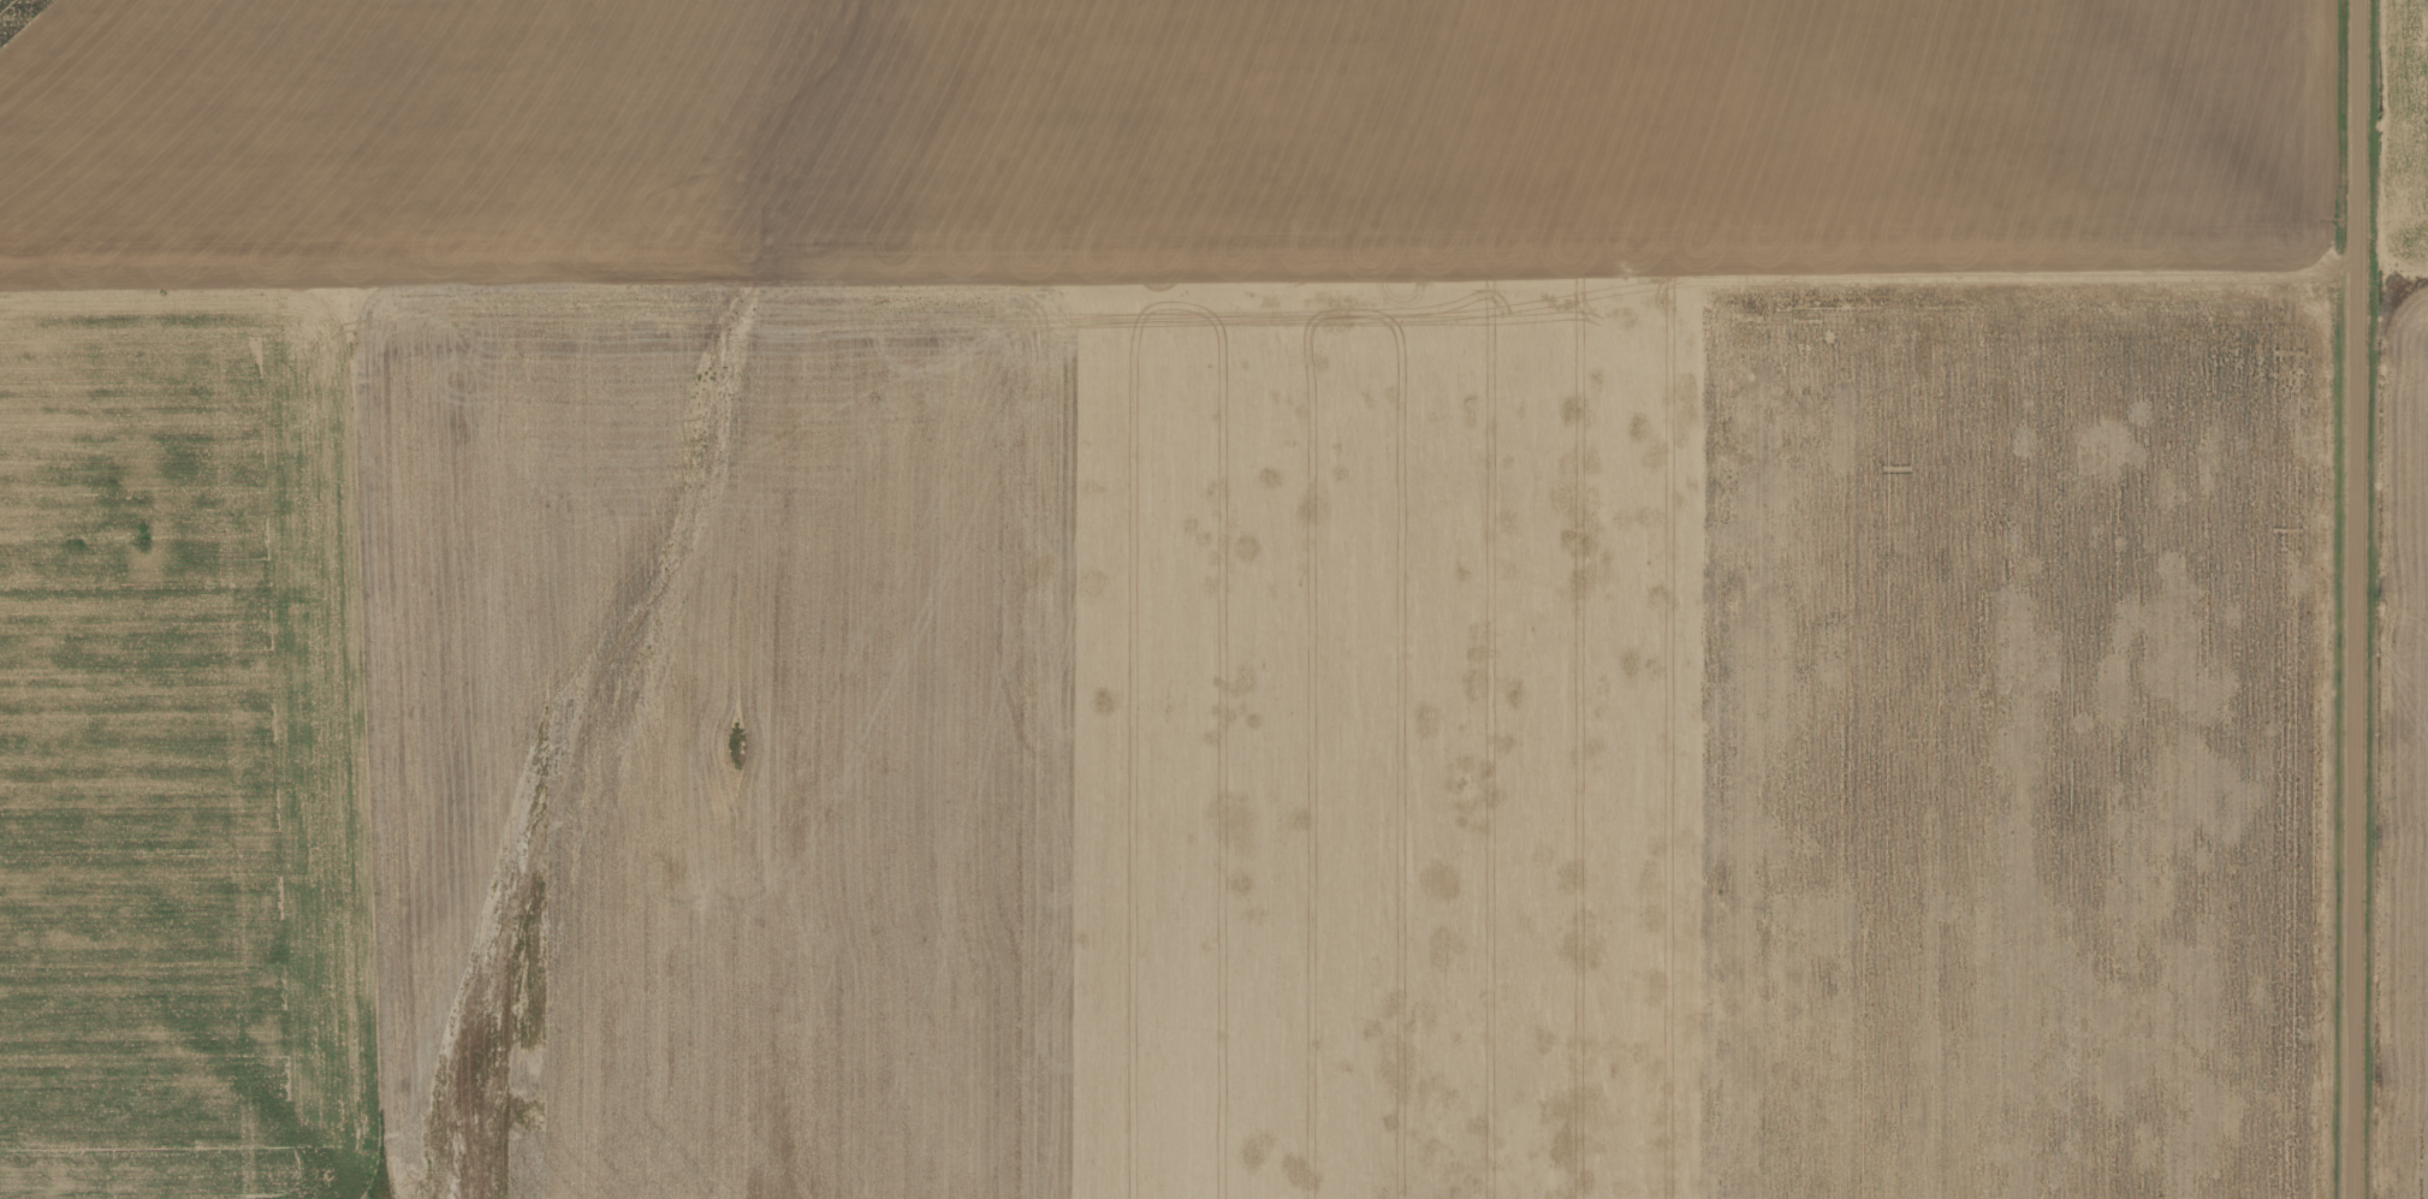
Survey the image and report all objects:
road: (2353, 599)

